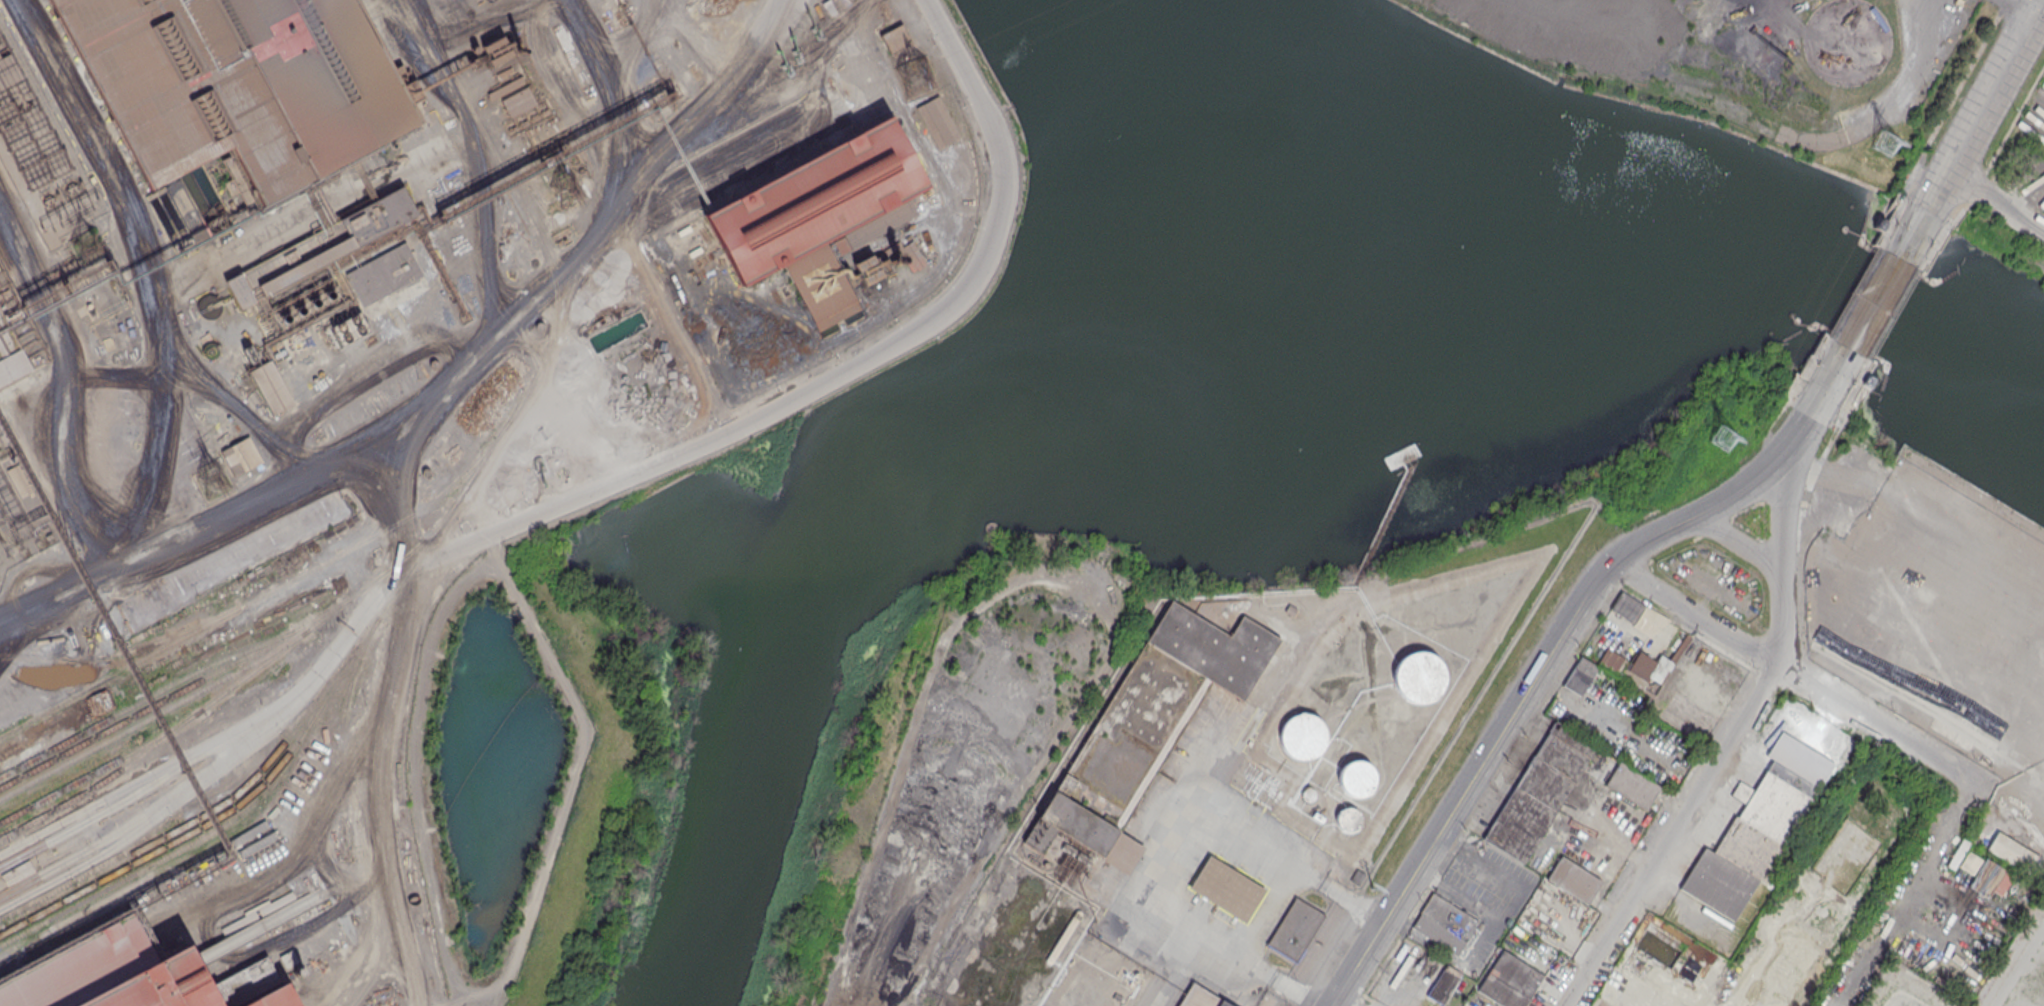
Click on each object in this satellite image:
road: (2039, 5)
road: (2029, 7)
traffic signals: (2037, 11)
building: (894, 39)
power tower: (915, 78)
building: (238, 83)
road: (1993, 89)
road: (1951, 99)
building: (519, 103)
road: (1887, 108)
road: (605, 114)
road: (2014, 120)
power tower: (1885, 143)
river: (1166, 154)
road: (470, 157)
power tower: (568, 187)
road: (1936, 189)
railway: (518, 200)
road: (1995, 200)
railway: (651, 206)
traffic signals: (1925, 212)
building: (820, 213)
building: (378, 217)
river: (1690, 258)
building: (280, 263)
building: (305, 266)
building: (382, 273)
road: (145, 274)
road: (1875, 300)
building: (835, 315)
building: (350, 328)
building: (10, 354)
road: (356, 375)
road: (63, 382)
building: (270, 385)
road: (446, 385)
traffic signals: (1826, 388)
road: (1816, 403)
road: (537, 408)
power tower: (1722, 440)
building: (240, 454)
road: (643, 470)
road: (1755, 475)
power tower: (212, 484)
road: (1786, 494)
power substation: (18, 516)
river: (842, 528)
road: (394, 530)
railway: (428, 534)
road: (1739, 541)
railway: (266, 592)
building: (1638, 614)
building: (1675, 648)
railway: (122, 652)
building: (1629, 666)
building: (1580, 675)
building: (1419, 677)
storage tank: (1419, 677)
road: (1799, 680)
railway: (175, 693)
railway: (155, 716)
building: (1141, 733)
building: (1302, 736)
storage tank: (1302, 736)
park: (885, 739)
railway: (158, 741)
road: (1494, 744)
road: (197, 755)
railway: (102, 767)
railway: (276, 779)
building: (1356, 779)
storage tank: (1356, 779)
road: (384, 780)
building: (1632, 785)
road: (568, 786)
building: (1539, 791)
building: (1308, 794)
storage tank: (1308, 794)
road: (1694, 795)
road: (1966, 796)
road: (1477, 801)
building: (1772, 806)
railway: (355, 812)
building: (1347, 818)
storage tank: (1347, 818)
road: (54, 833)
road: (303, 835)
building: (2011, 852)
building: (1957, 853)
building: (1969, 862)
building: (17, 873)
railway: (220, 874)
building: (1573, 879)
building: (1986, 879)
road: (44, 881)
building: (2002, 884)
power tower: (1370, 887)
building: (1227, 888)
road: (1897, 905)
building: (1448, 917)
building: (1294, 928)
building: (1644, 936)
storage tank: (1644, 936)
building: (1651, 940)
storage tank: (1651, 940)
building: (1658, 945)
storage tank: (1658, 945)
building: (1665, 949)
storage tank: (1665, 949)
building: (1673, 954)
storage tank: (1673, 954)
road: (1228, 957)
building: (175, 963)
building: (1799, 974)
building: (1508, 981)
building: (1444, 984)
building: (1199, 997)
building: (1784, 998)
building: (1660, 1001)
road: (1337, 1004)

